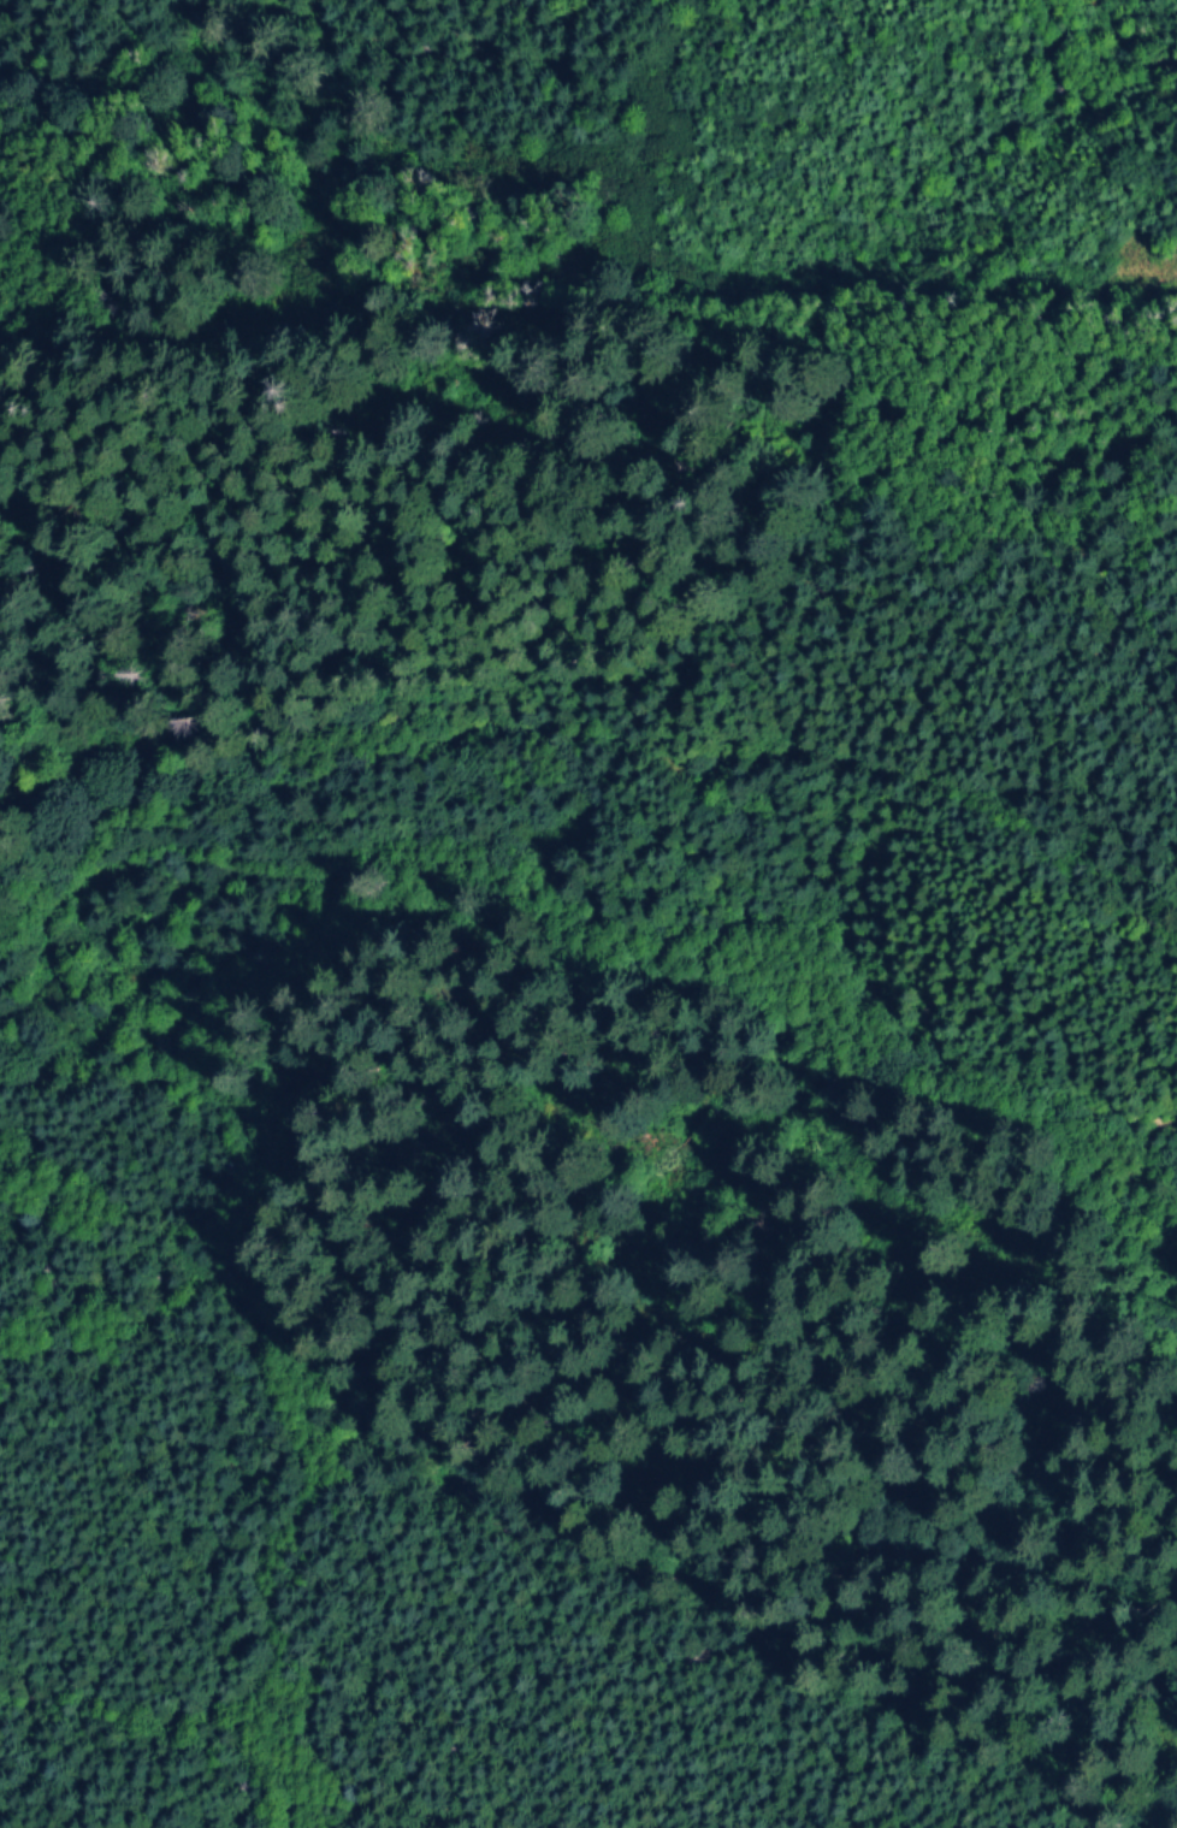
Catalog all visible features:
road: (1093, 59)
road: (161, 852)
road: (578, 897)
road: (266, 1555)

